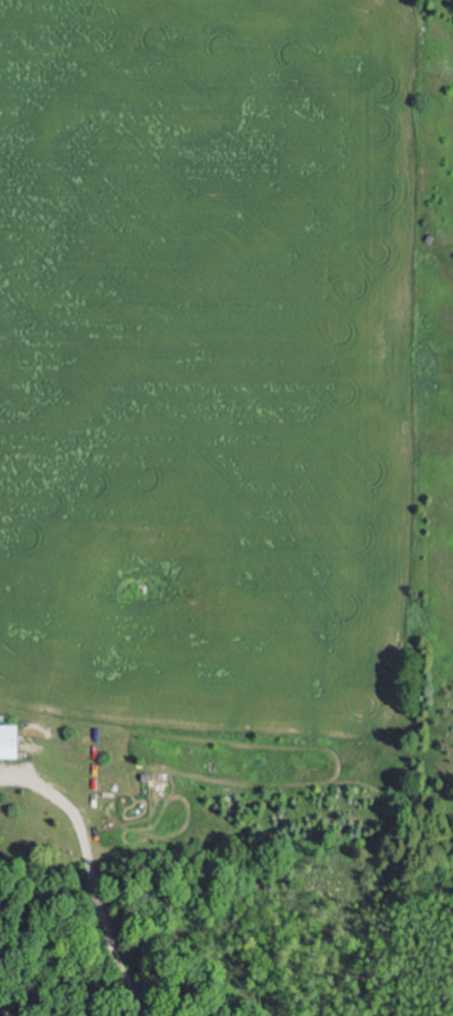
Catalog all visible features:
building: (10, 742)
road: (91, 876)

